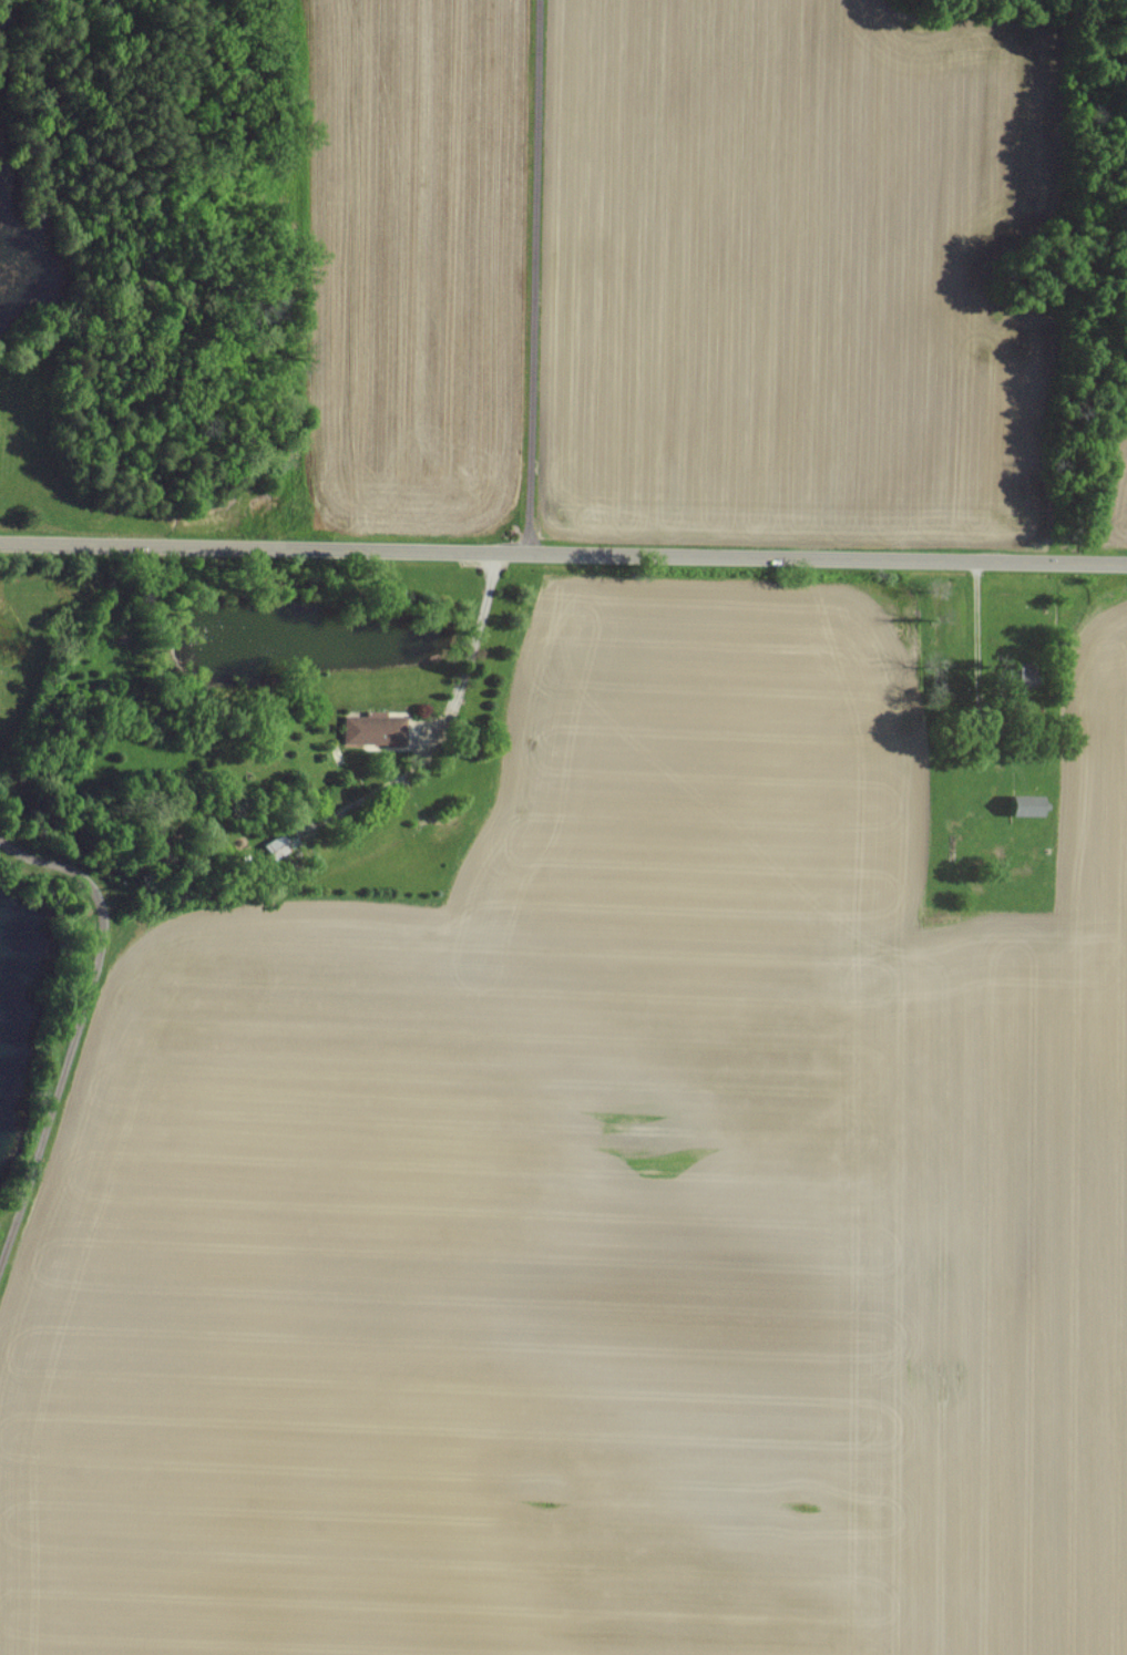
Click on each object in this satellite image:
road: (535, 277)
road: (563, 554)
road: (479, 631)
building: (375, 727)
building: (1031, 804)
road: (78, 1032)

